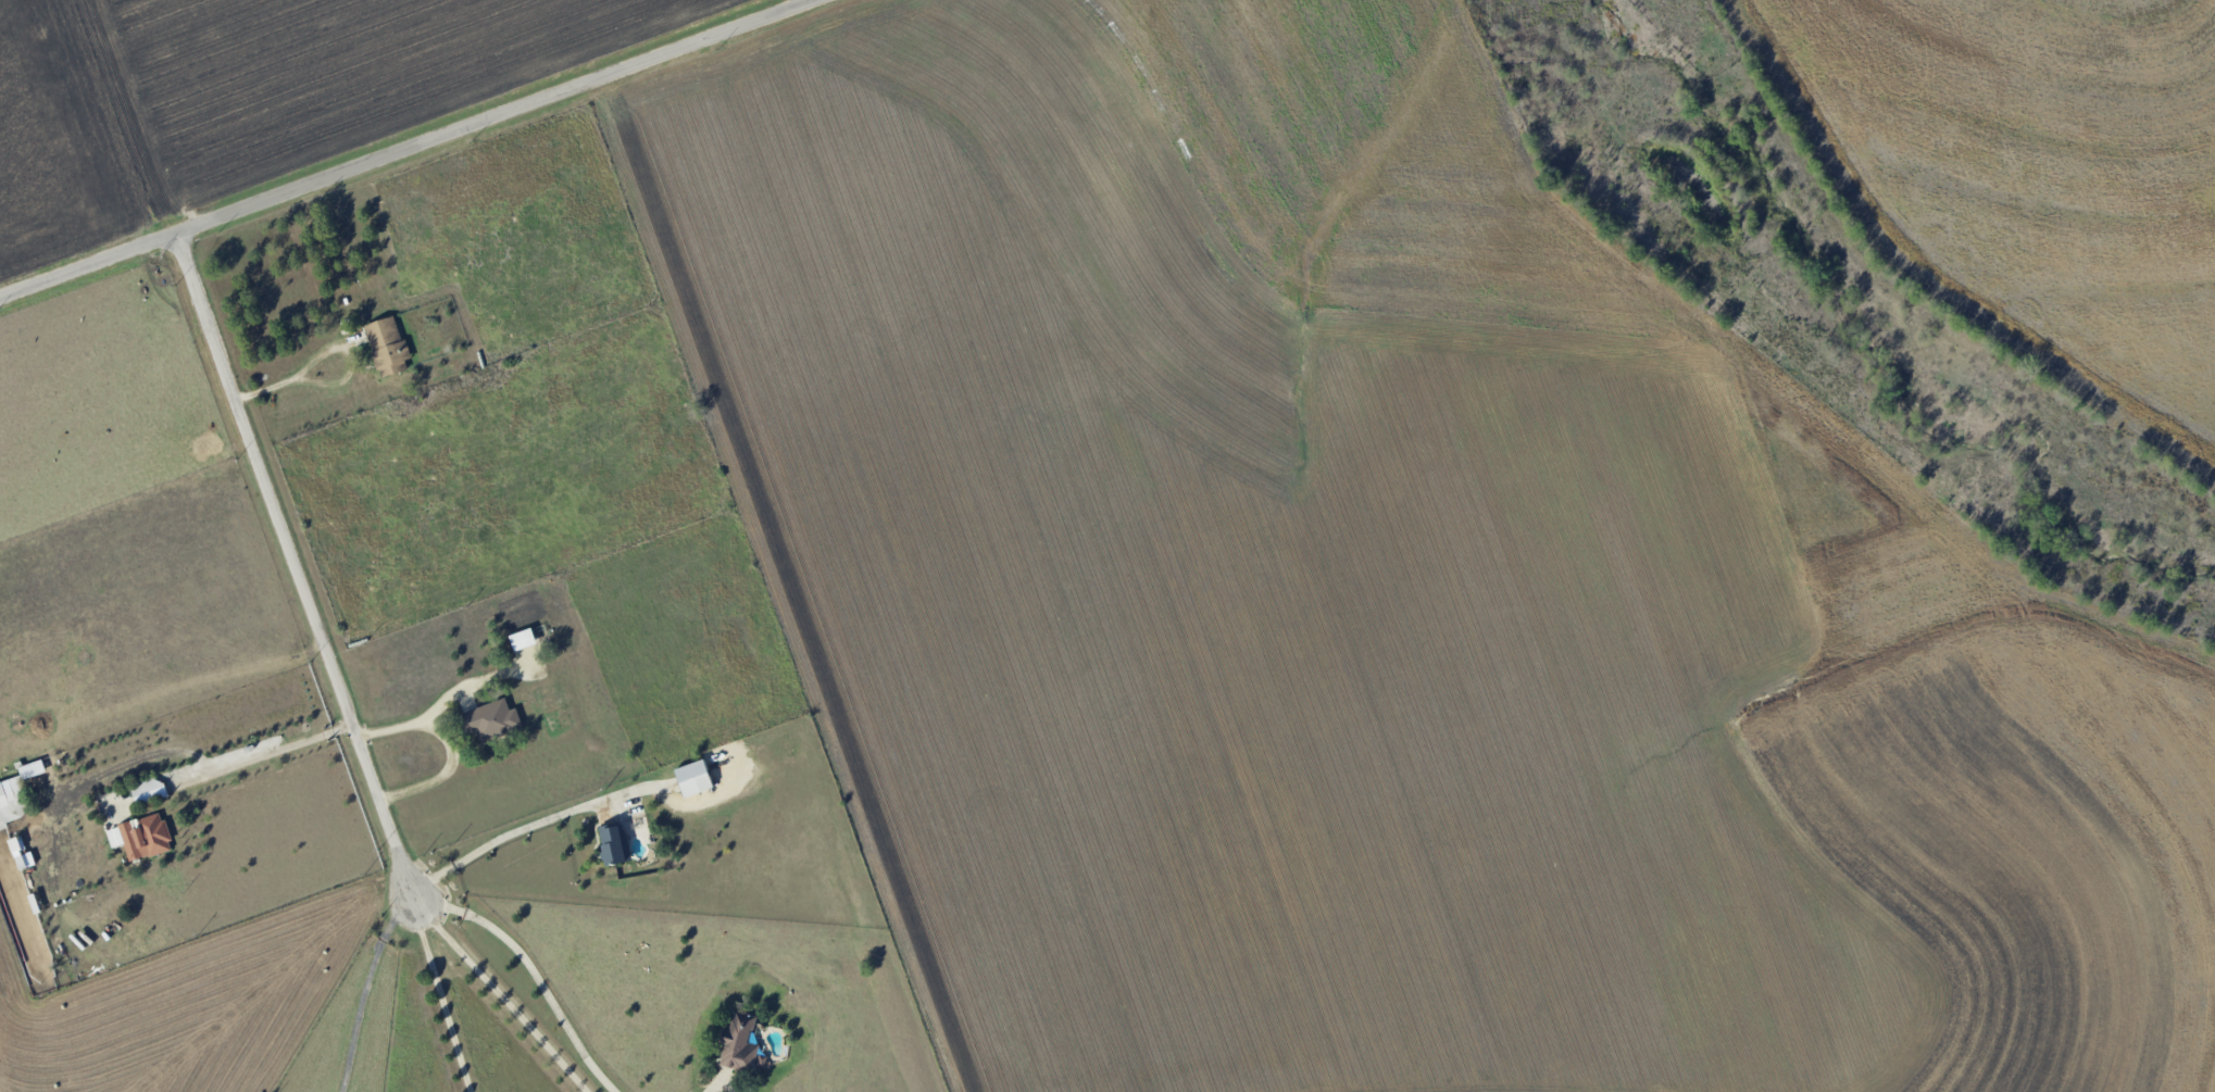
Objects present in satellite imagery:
road: (406, 148)
building: (388, 346)
road: (316, 352)
road: (290, 562)
building: (523, 639)
building: (493, 719)
road: (442, 744)
road: (205, 761)
building: (33, 769)
building: (694, 778)
building: (149, 791)
building: (13, 802)
road: (527, 824)
building: (141, 837)
building: (613, 844)
road: (541, 968)
road: (366, 983)
road: (506, 989)
road: (445, 990)
building: (740, 1044)

